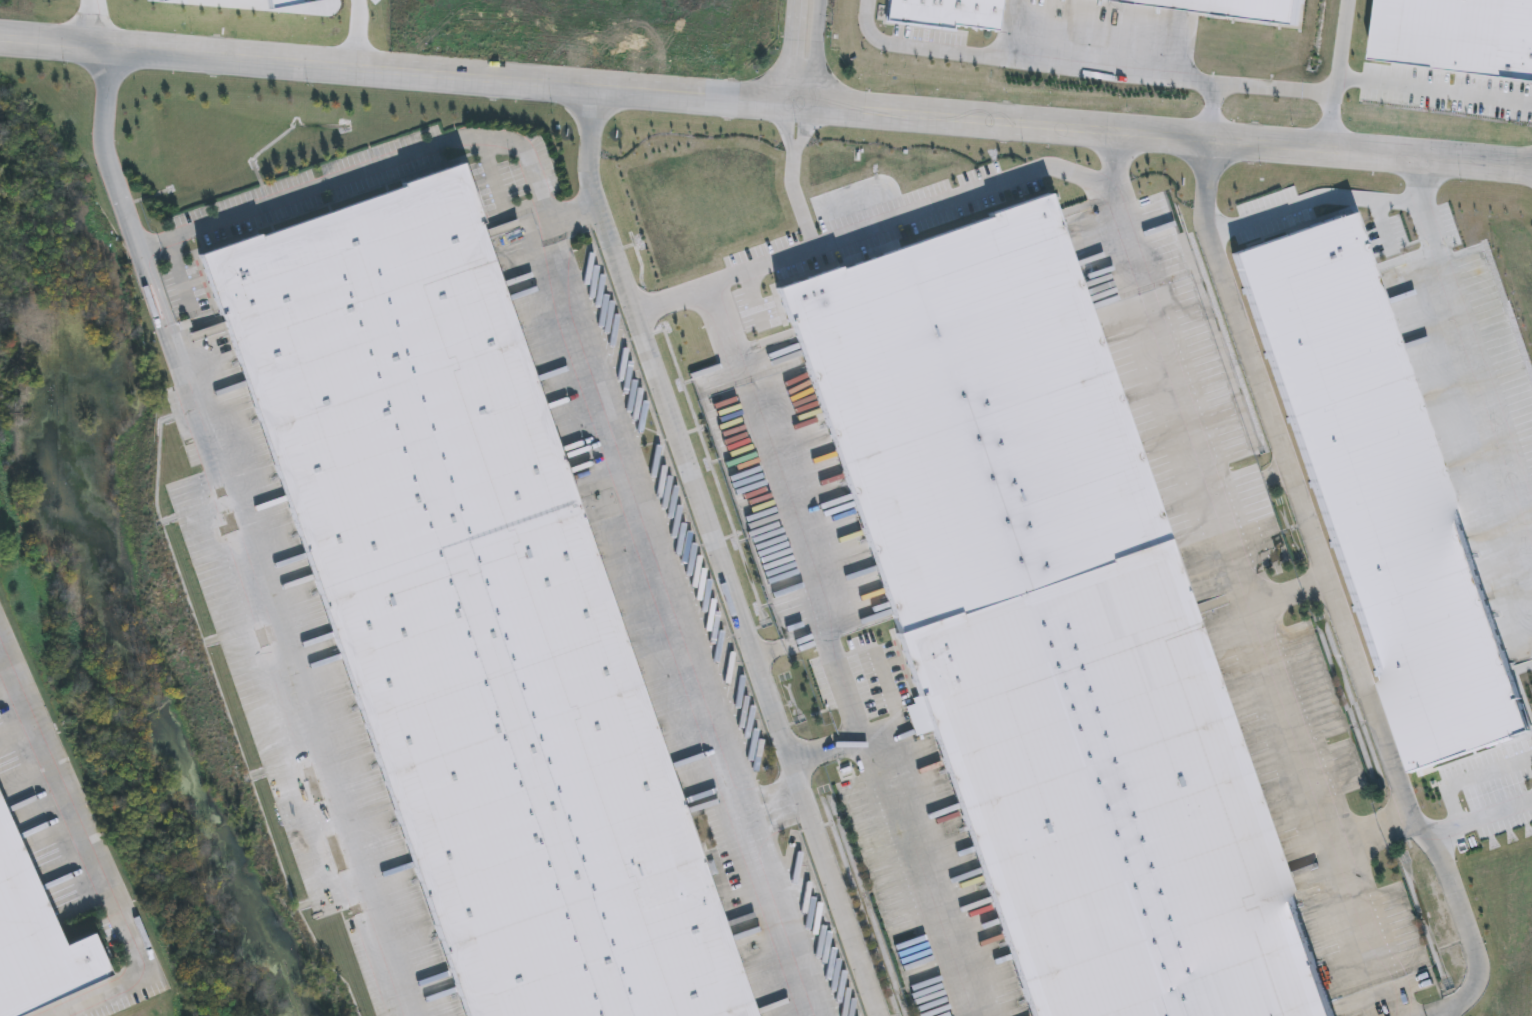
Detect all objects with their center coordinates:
building: (1234, 8)
building: (948, 15)
road: (90, 25)
road: (356, 35)
road: (795, 51)
road: (818, 52)
road: (1084, 69)
road: (1337, 76)
road: (1434, 87)
road: (766, 101)
road: (1213, 113)
road: (392, 159)
road: (109, 162)
road: (1421, 182)
road: (987, 188)
road: (575, 213)
road: (164, 240)
road: (558, 249)
road: (794, 256)
road: (1442, 257)
road: (1294, 479)
building: (1382, 492)
road: (721, 554)
road: (1316, 570)
building: (471, 614)
building: (1048, 627)
road: (271, 632)
road: (686, 637)
road: (828, 650)
road: (1303, 712)
road: (860, 728)
road: (819, 744)
road: (1469, 778)
road: (787, 803)
road: (757, 813)
road: (1486, 816)
road: (1394, 817)
road: (1362, 828)
road: (95, 845)
road: (923, 870)
road: (1468, 911)
building: (36, 941)
road: (1431, 1009)

